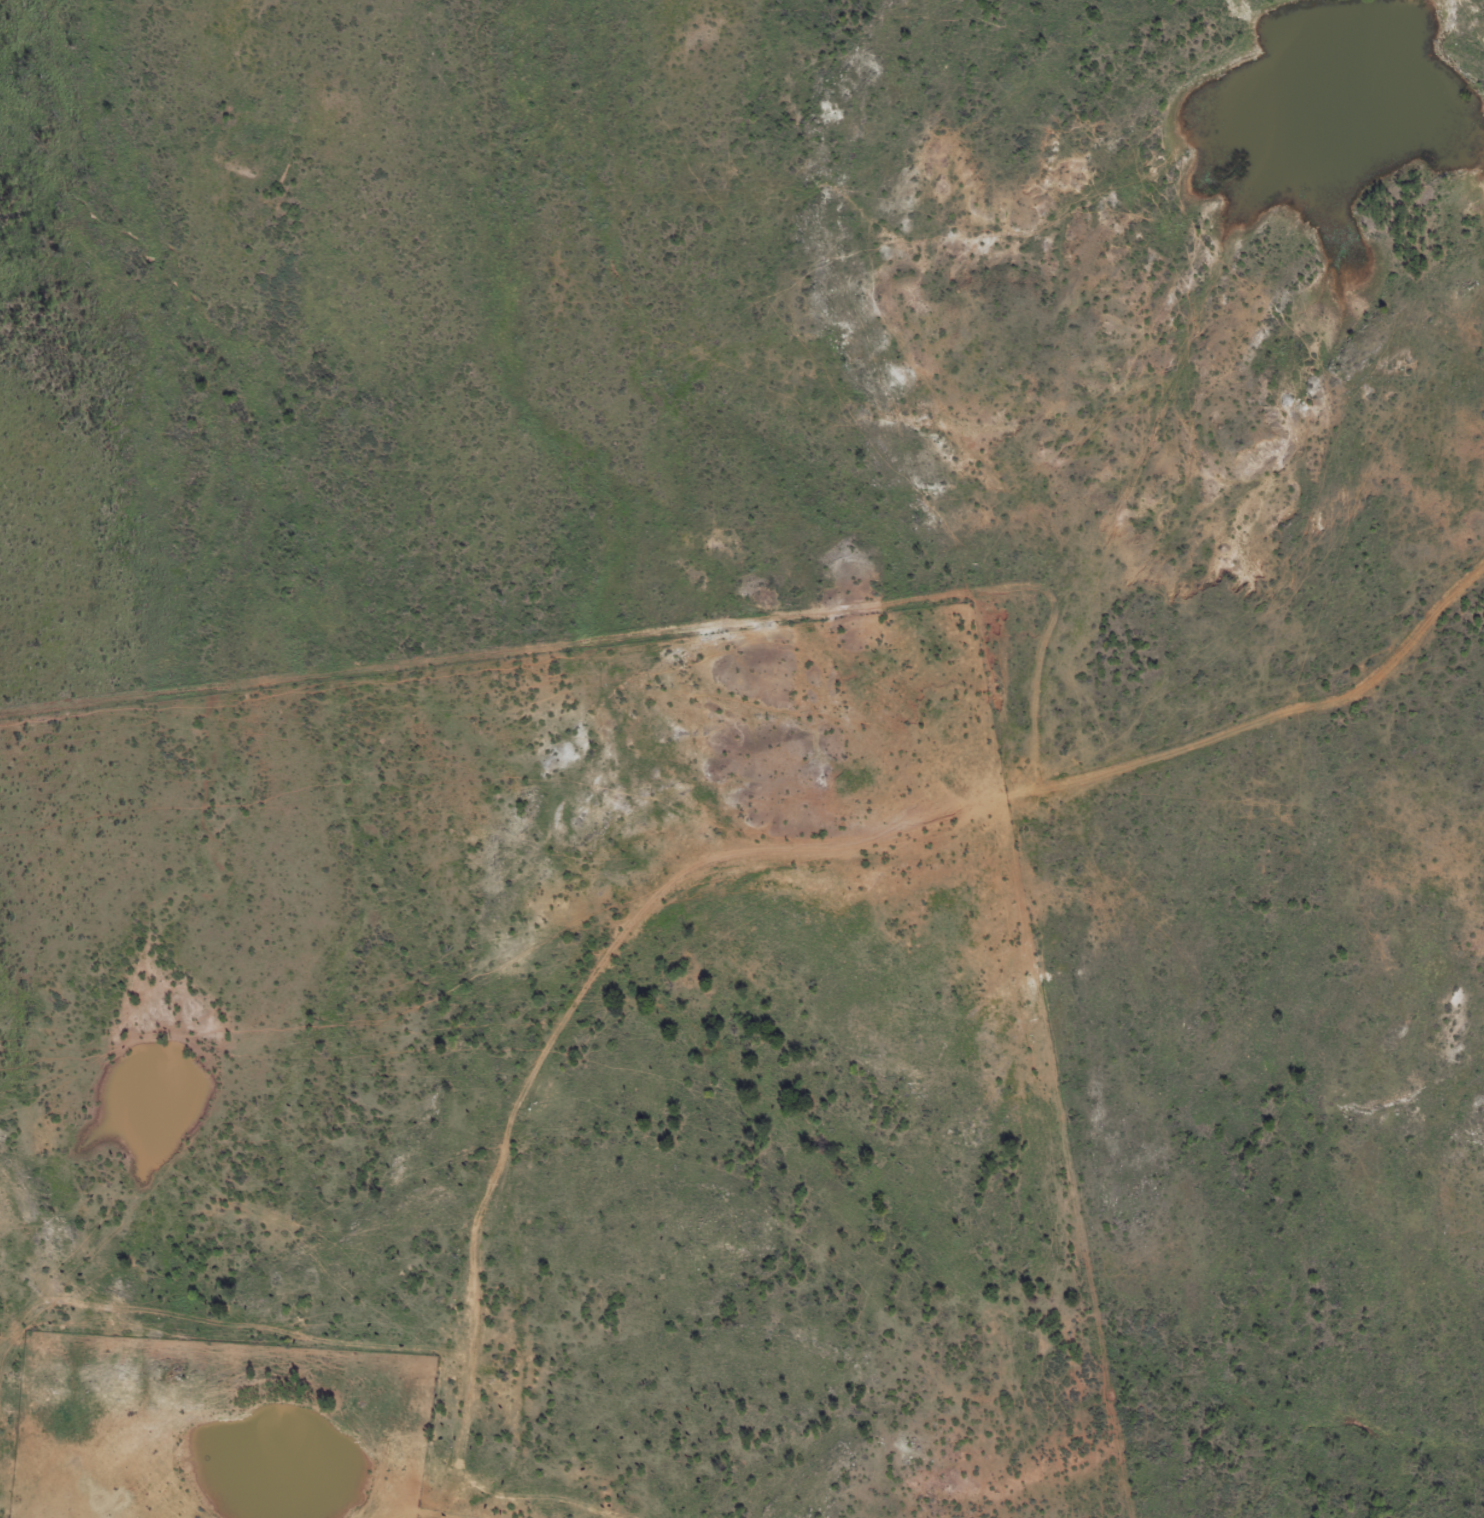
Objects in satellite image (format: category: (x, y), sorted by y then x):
road: (774, 881)
road: (14, 1514)

